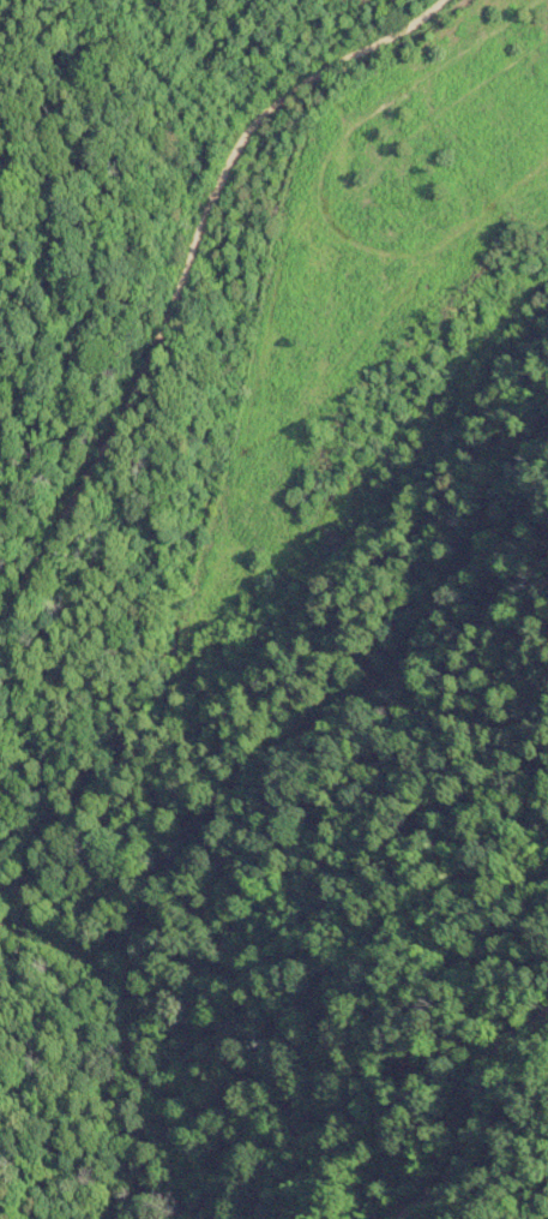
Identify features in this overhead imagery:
road: (151, 256)
road: (474, 1139)

